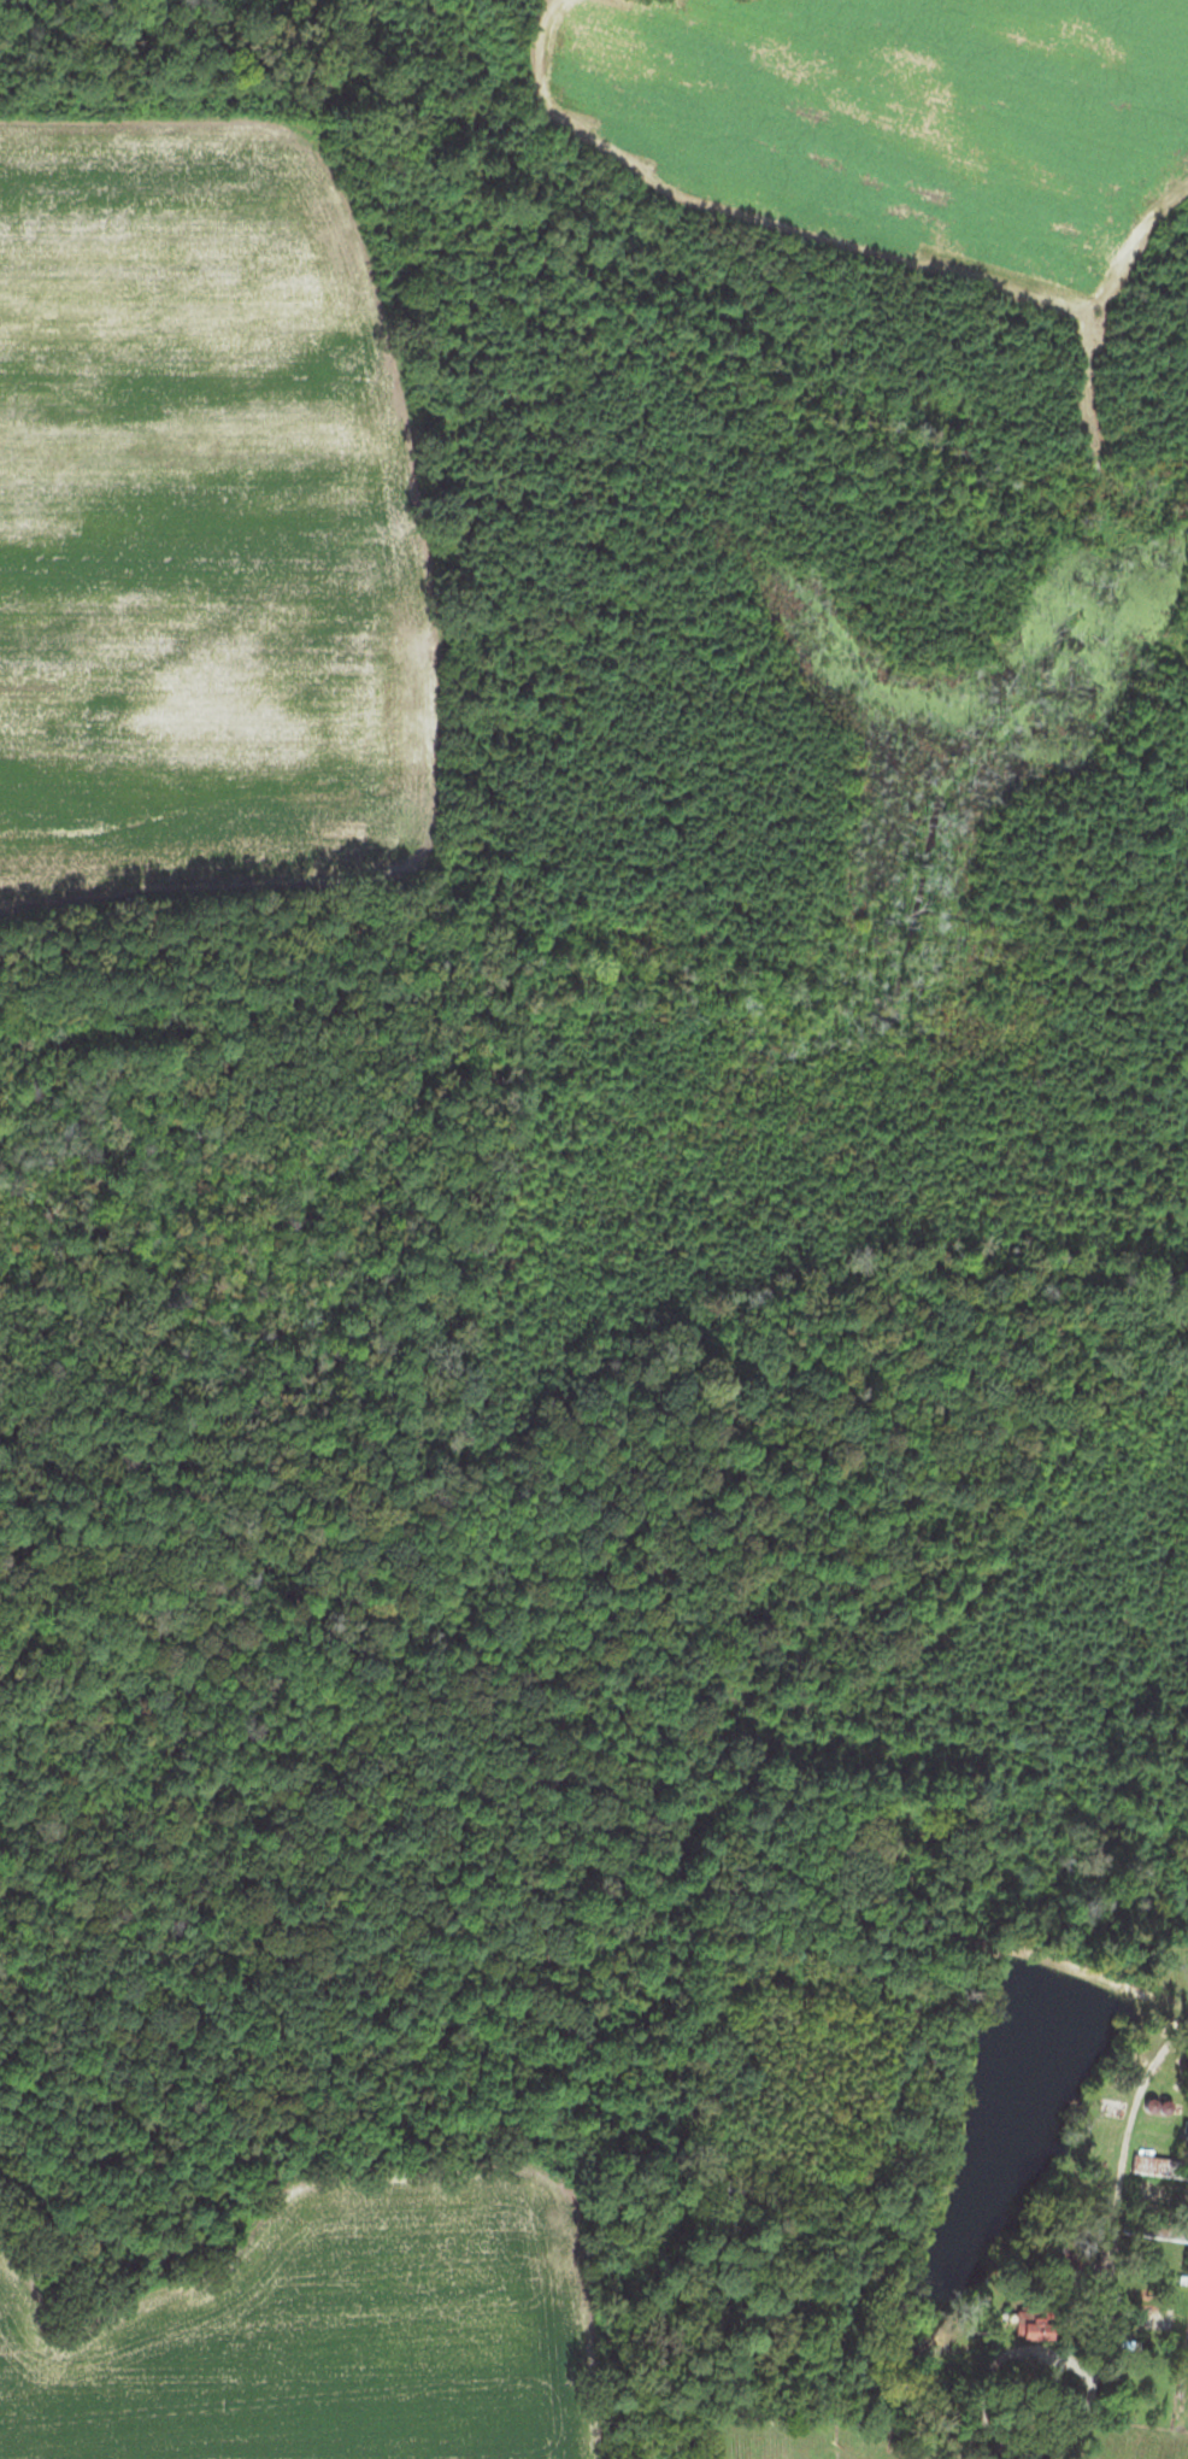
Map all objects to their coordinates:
building: (1157, 2162)
building: (1165, 2231)
road: (1111, 2236)
building: (1161, 2317)
building: (1013, 2324)

